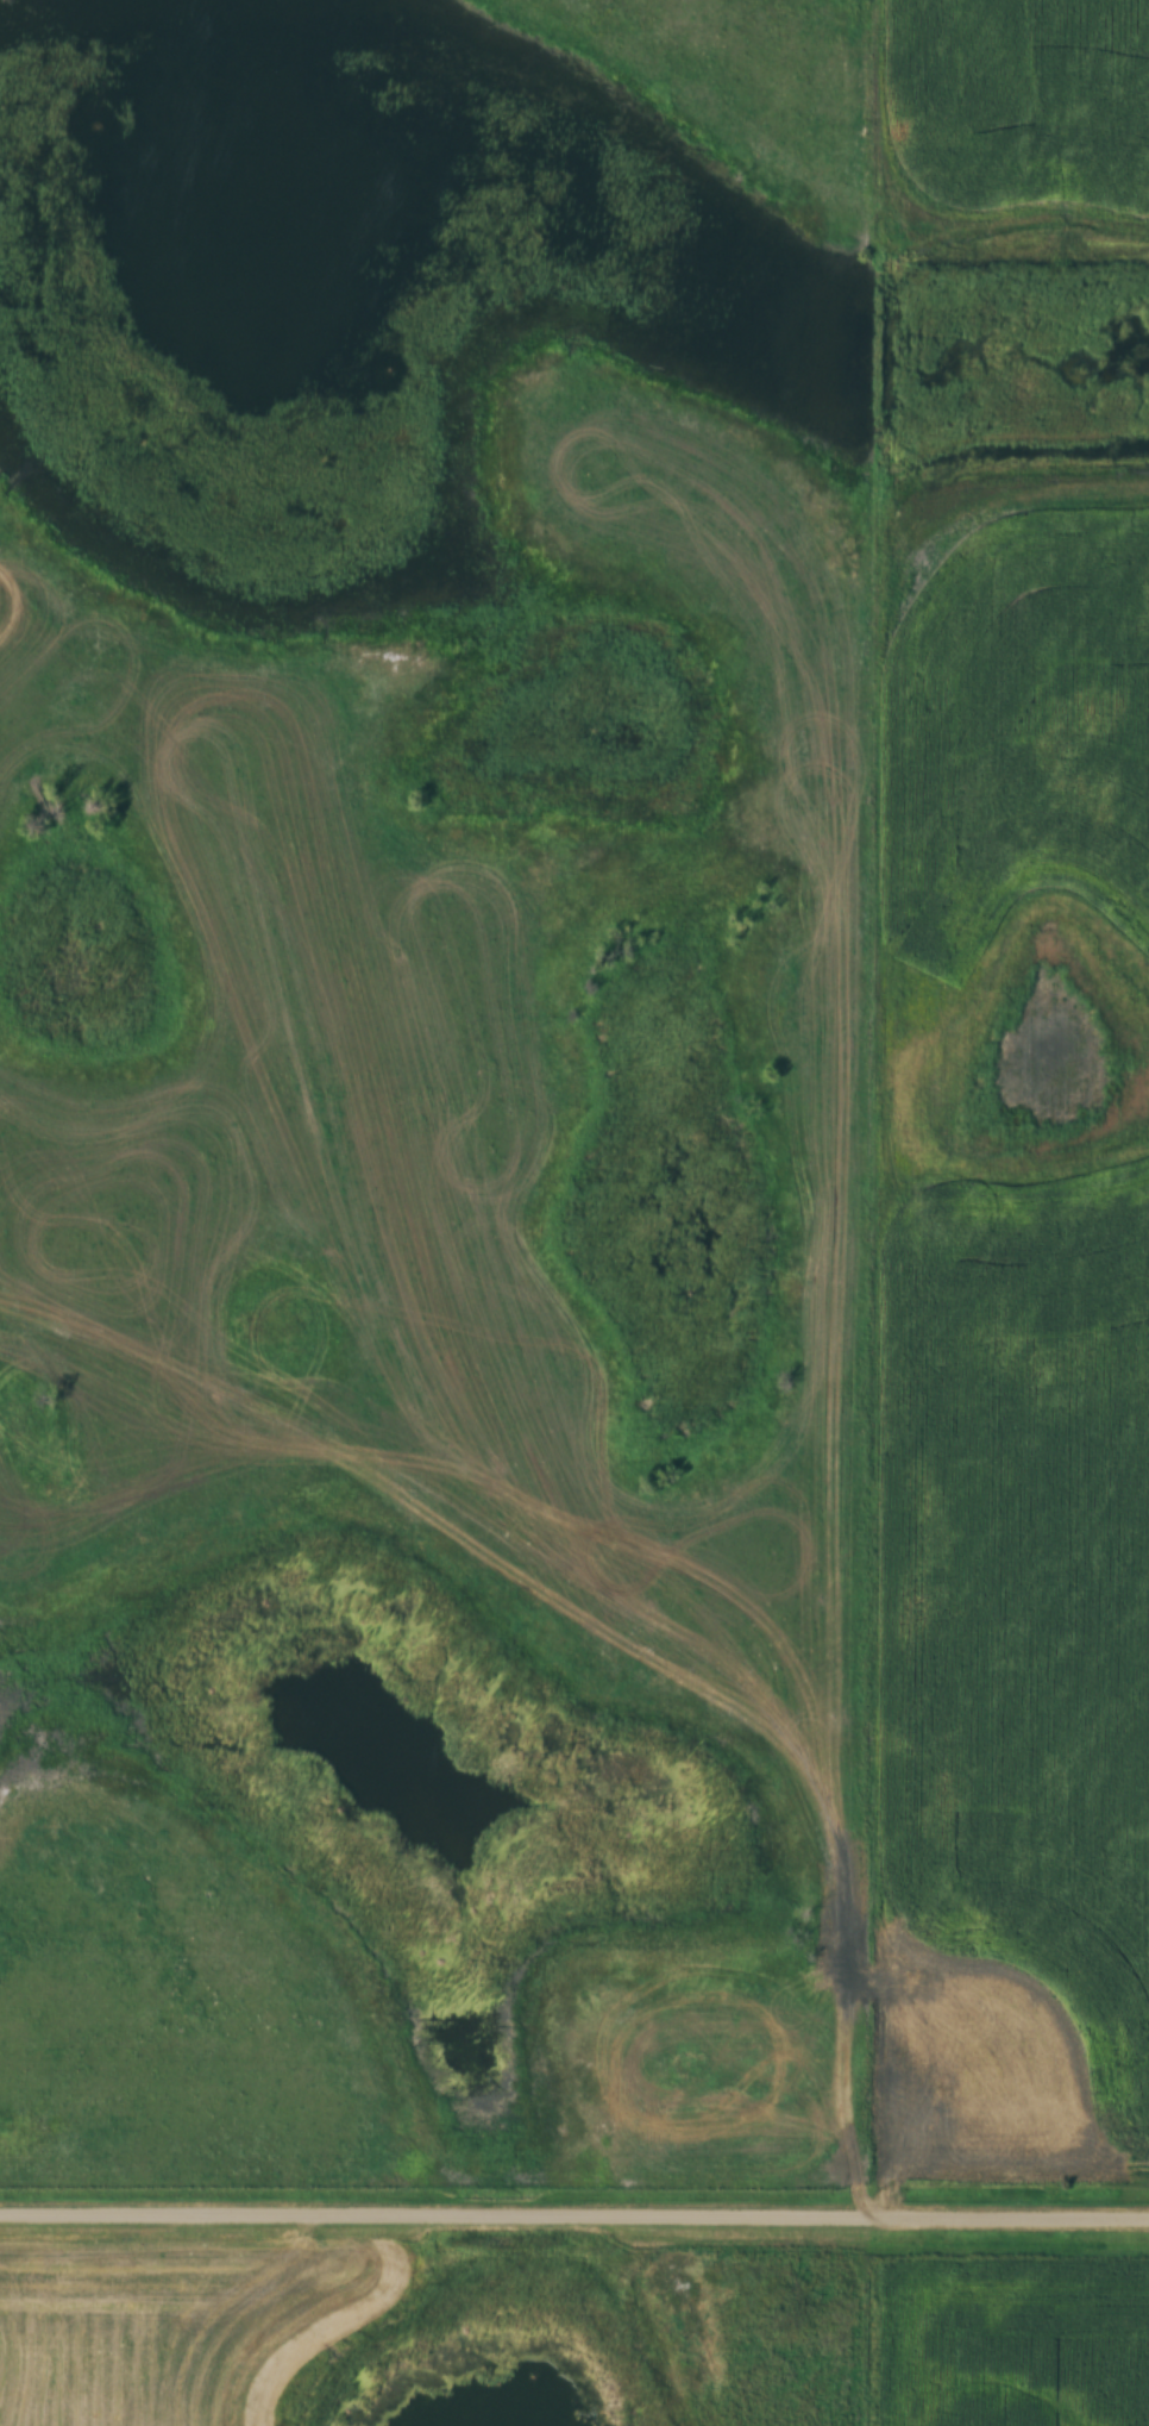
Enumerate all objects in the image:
road: (574, 2220)

